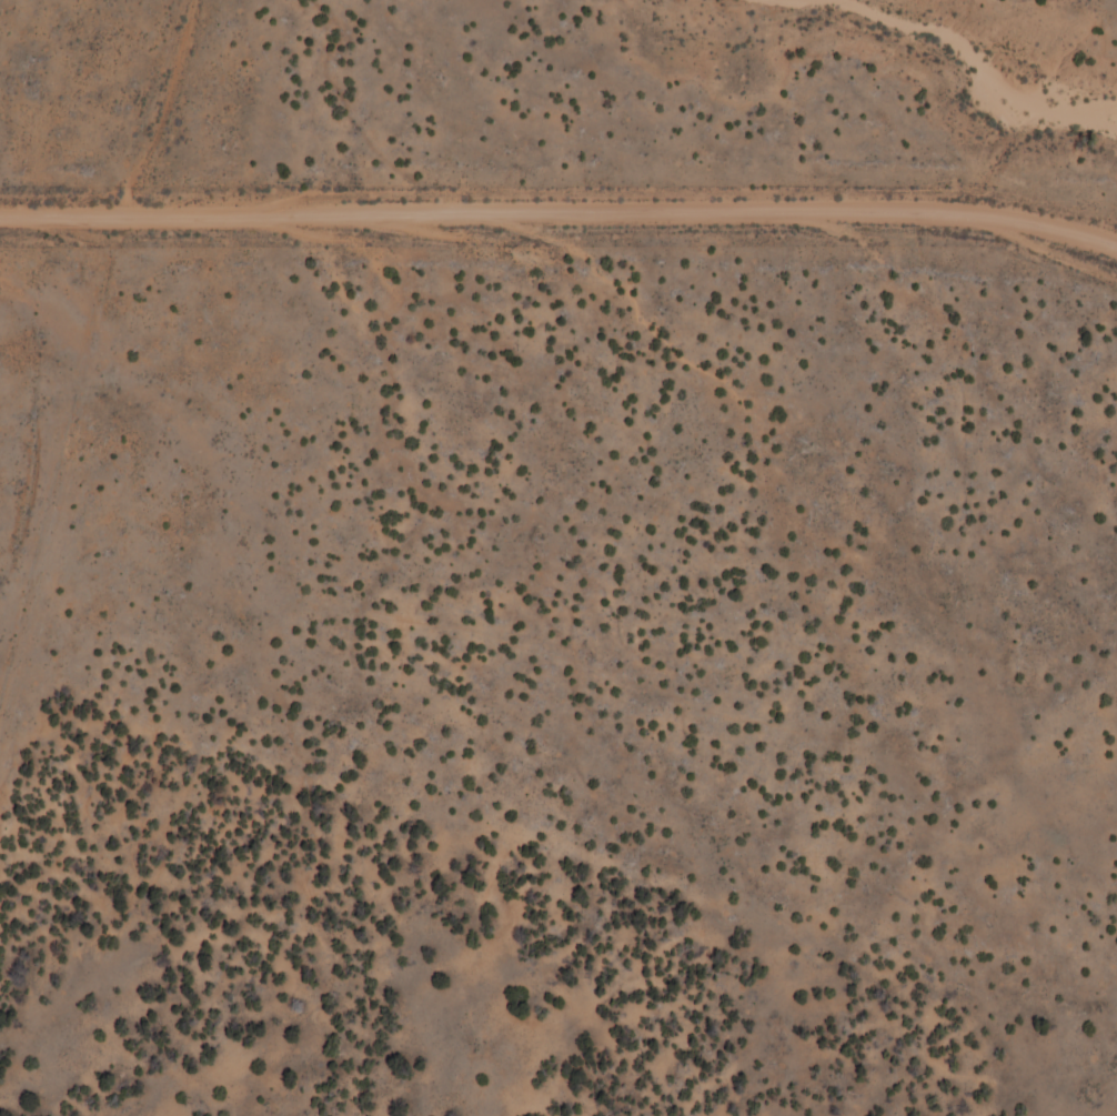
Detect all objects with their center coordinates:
road: (23, 183)
road: (566, 224)
road: (53, 499)

